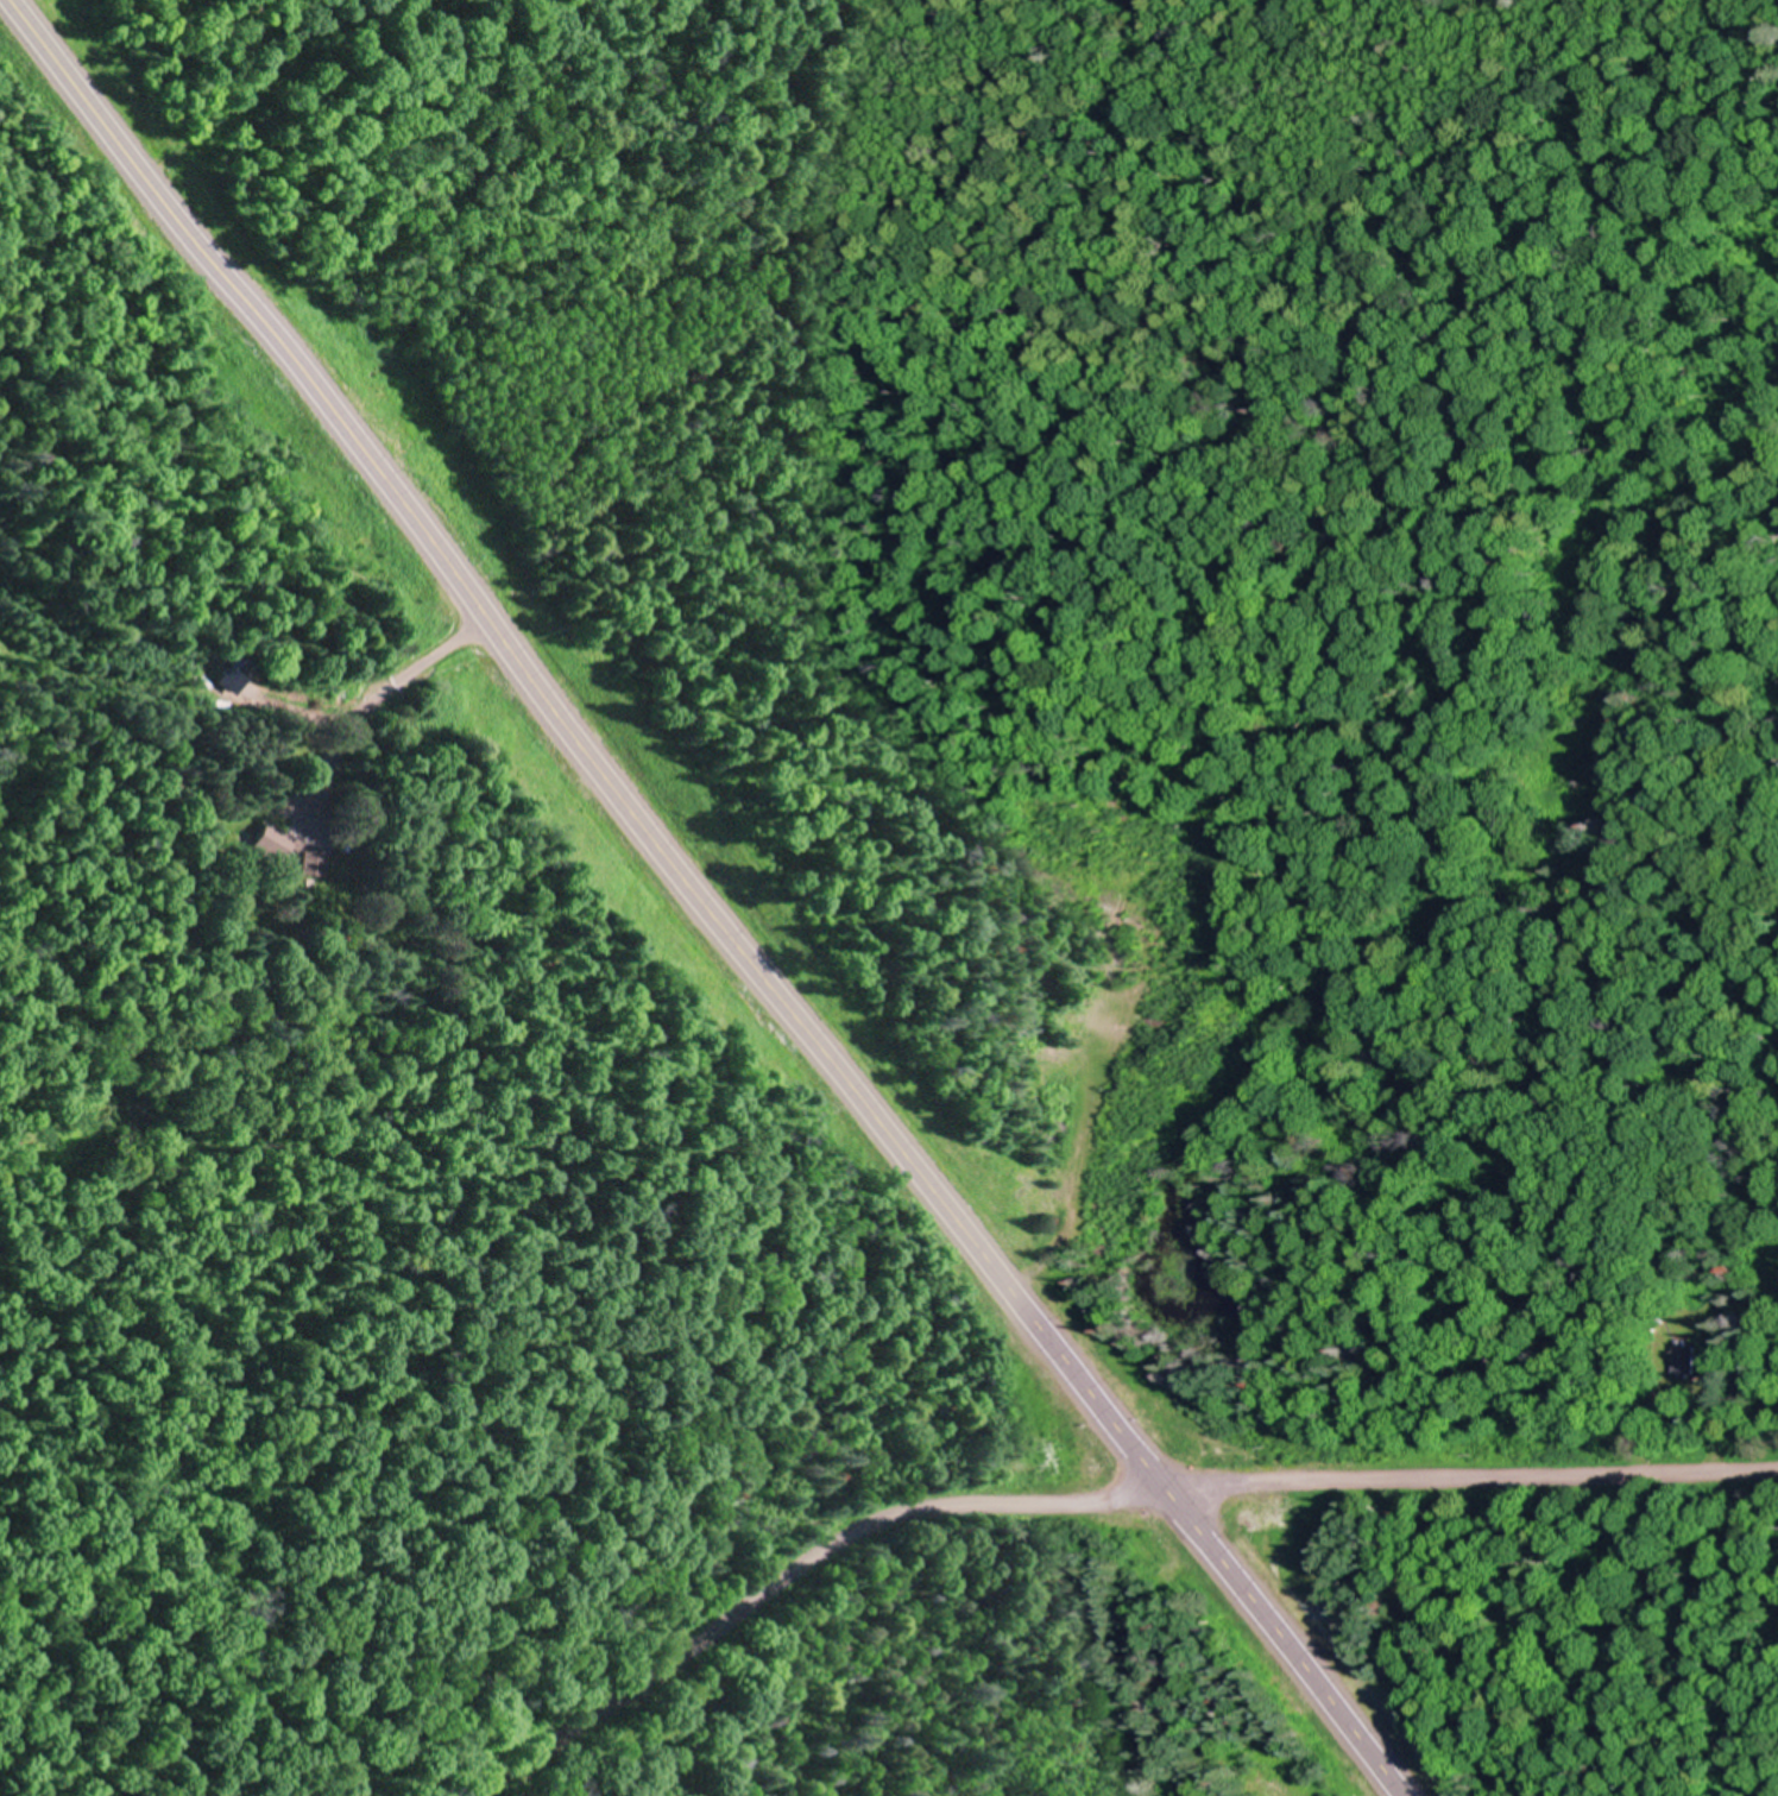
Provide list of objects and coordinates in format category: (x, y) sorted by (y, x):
road: (207, 687)
road: (705, 899)
road: (1471, 1479)
road: (795, 1574)

